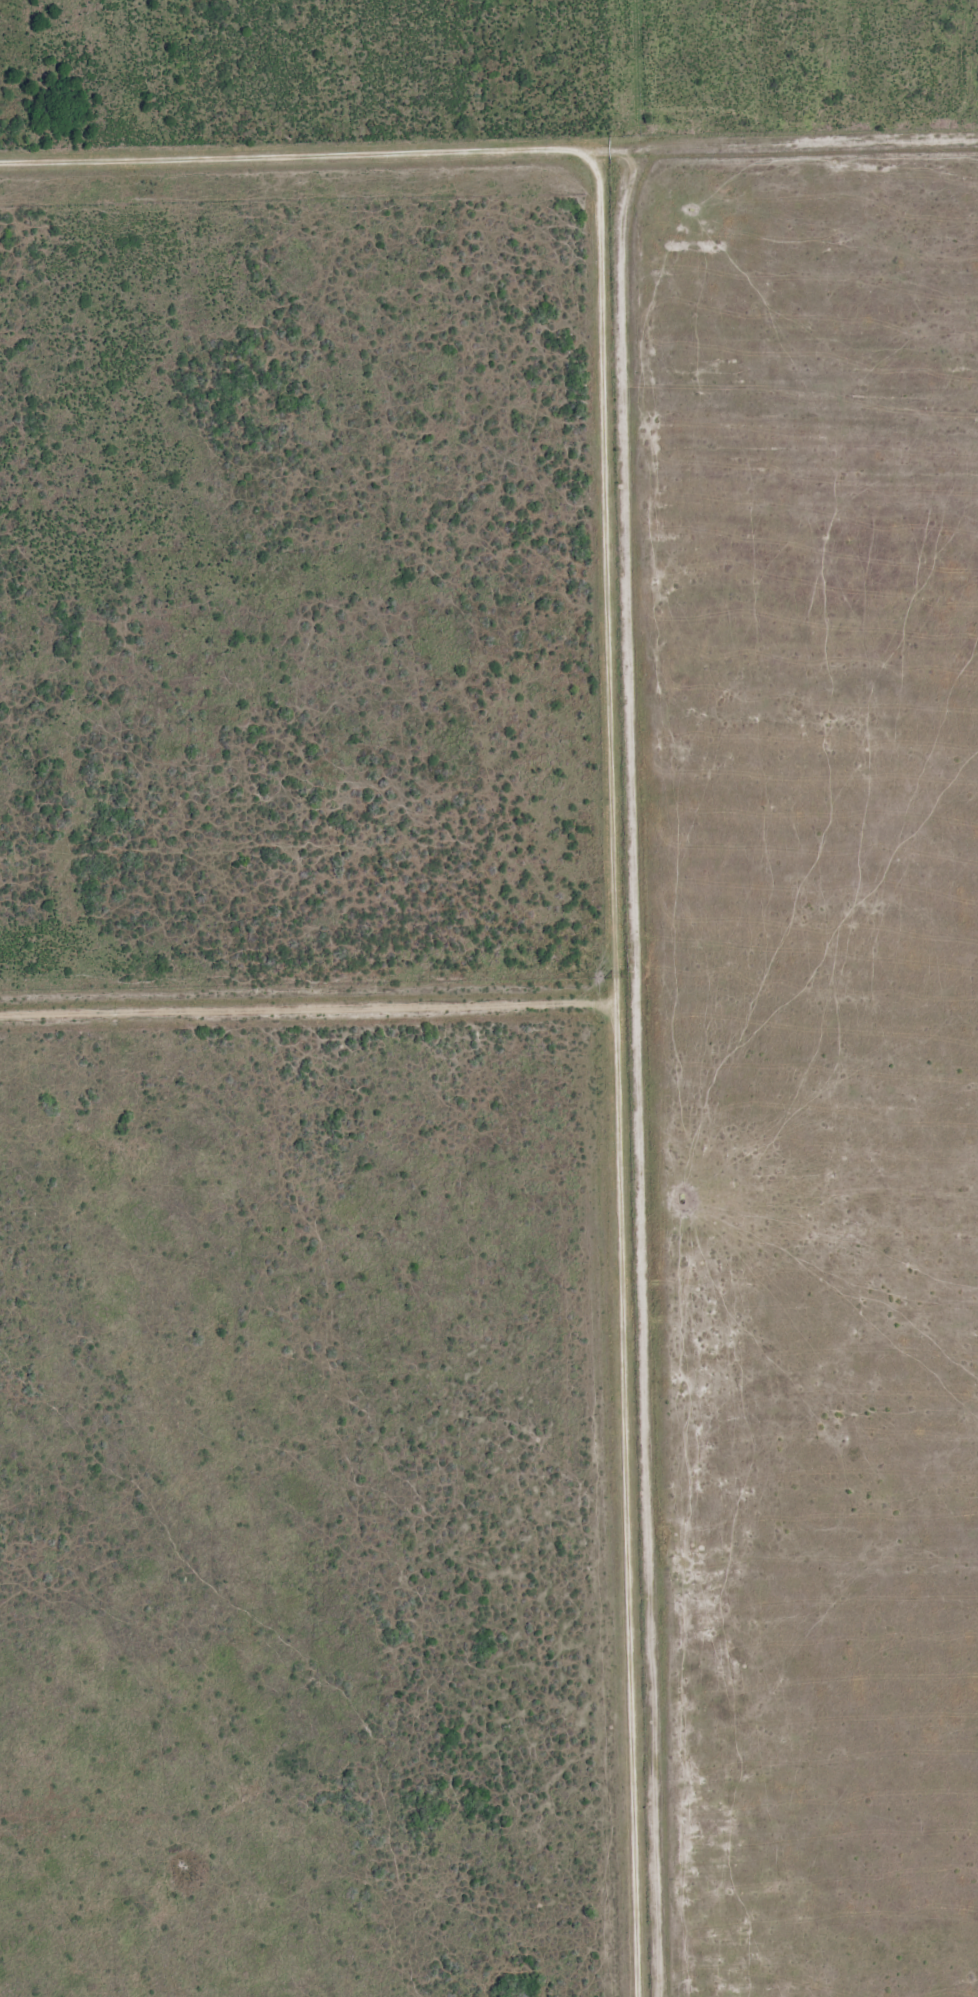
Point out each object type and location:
road: (613, 781)
road: (309, 1005)

